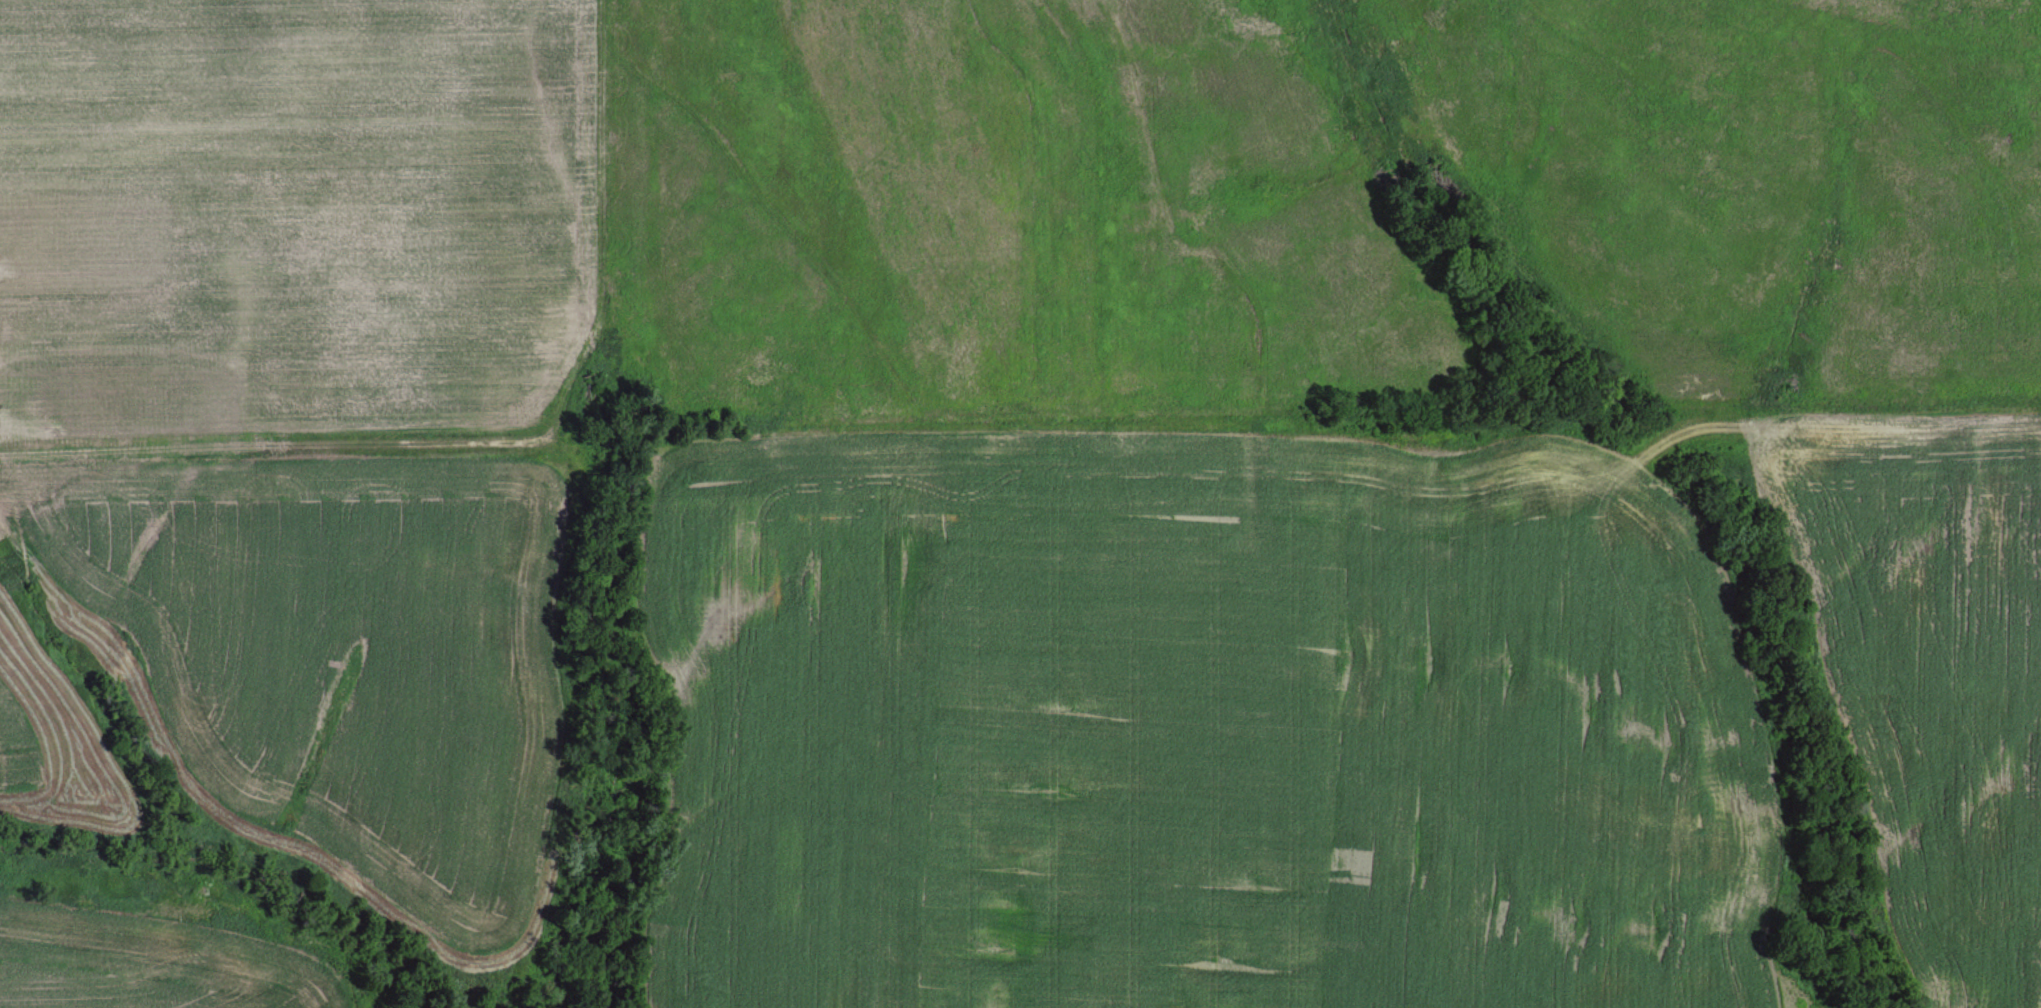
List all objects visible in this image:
road: (1019, 413)

